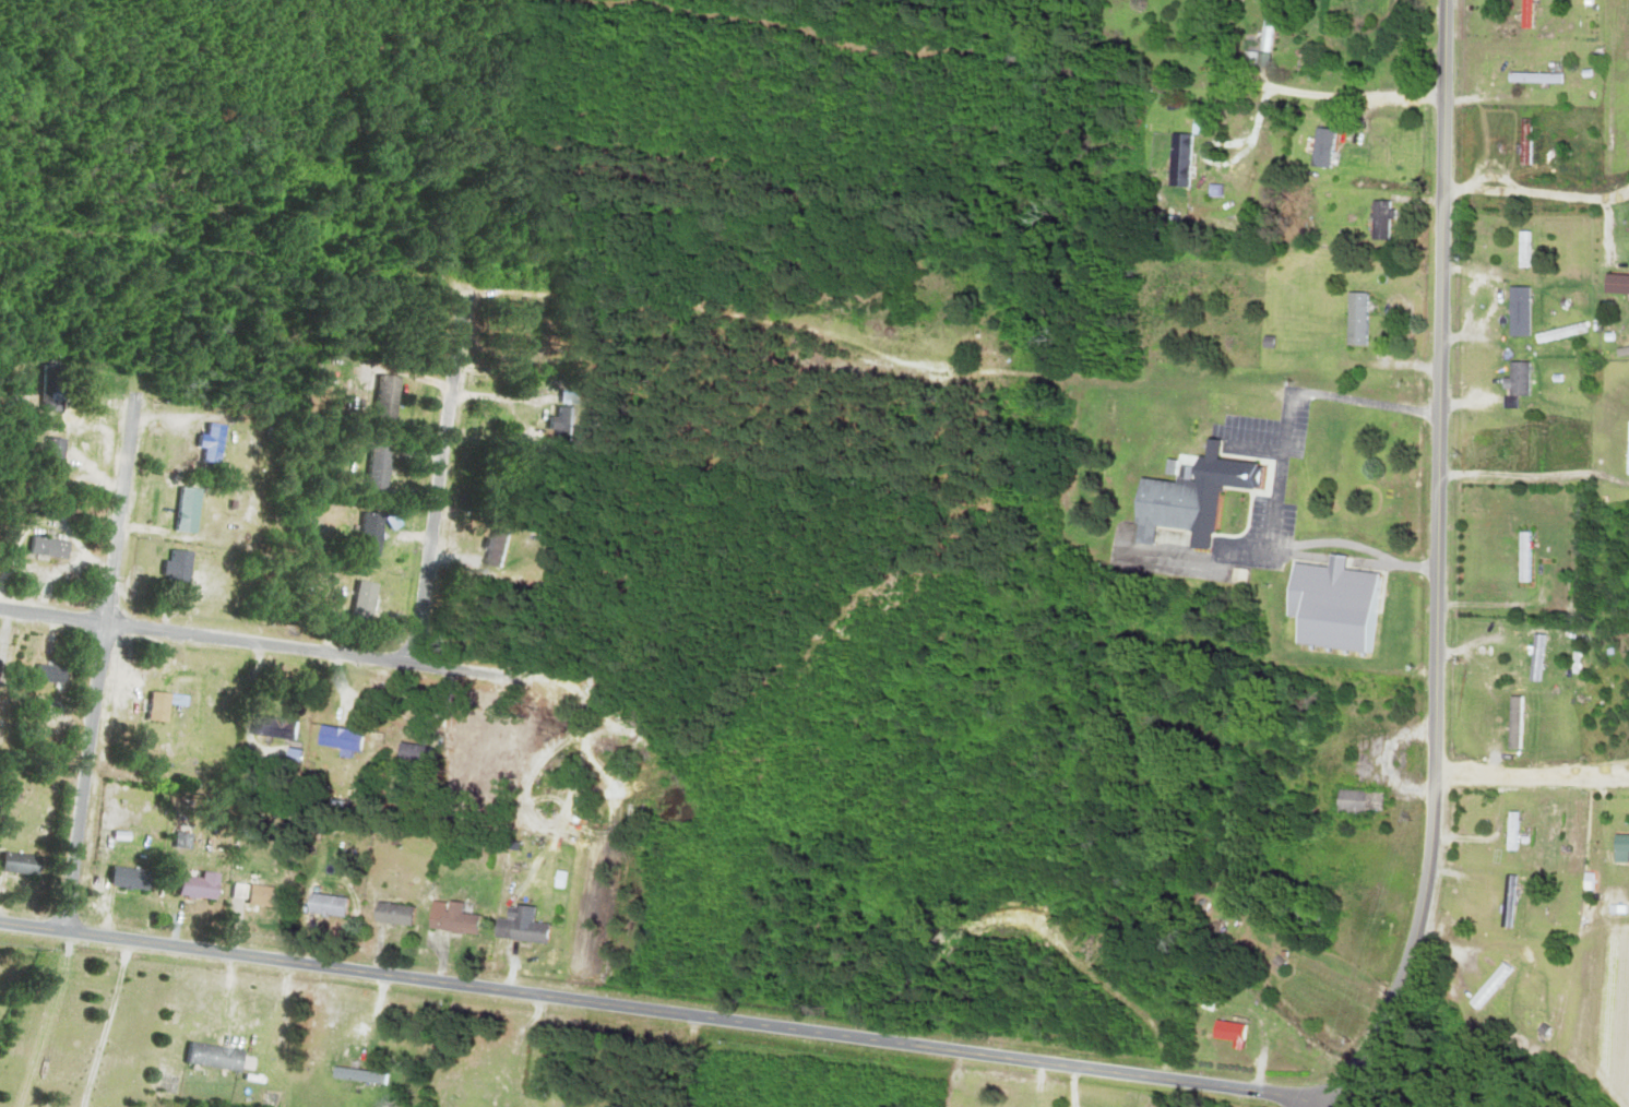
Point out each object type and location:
building: (1389, 11)
building: (1524, 14)
building: (1262, 35)
building: (1532, 78)
road: (1354, 96)
building: (1522, 142)
building: (1372, 151)
building: (1177, 160)
road: (1536, 198)
building: (1378, 221)
building: (1521, 250)
building: (1615, 285)
building: (1521, 313)
building: (1353, 320)
building: (1514, 380)
building: (58, 386)
building: (379, 397)
building: (559, 425)
building: (205, 444)
building: (1626, 449)
building: (1520, 451)
building: (61, 455)
building: (370, 468)
road: (437, 476)
building: (1188, 501)
building: (361, 535)
building: (57, 546)
building: (490, 549)
building: (1521, 558)
road: (1438, 563)
building: (356, 598)
road: (265, 643)
building: (1521, 651)
road: (99, 662)
building: (2, 667)
building: (57, 674)
building: (167, 705)
building: (1512, 723)
building: (267, 728)
building: (333, 740)
building: (408, 754)
road: (1532, 773)
building: (1356, 802)
building: (1509, 833)
building: (1619, 846)
building: (28, 864)
building: (134, 878)
building: (207, 885)
building: (272, 895)
building: (1505, 901)
building: (342, 905)
building: (1297, 912)
building: (399, 913)
building: (448, 918)
building: (518, 926)
building: (1488, 986)
road: (667, 1010)
building: (1227, 1032)
building: (221, 1056)
building: (356, 1075)

